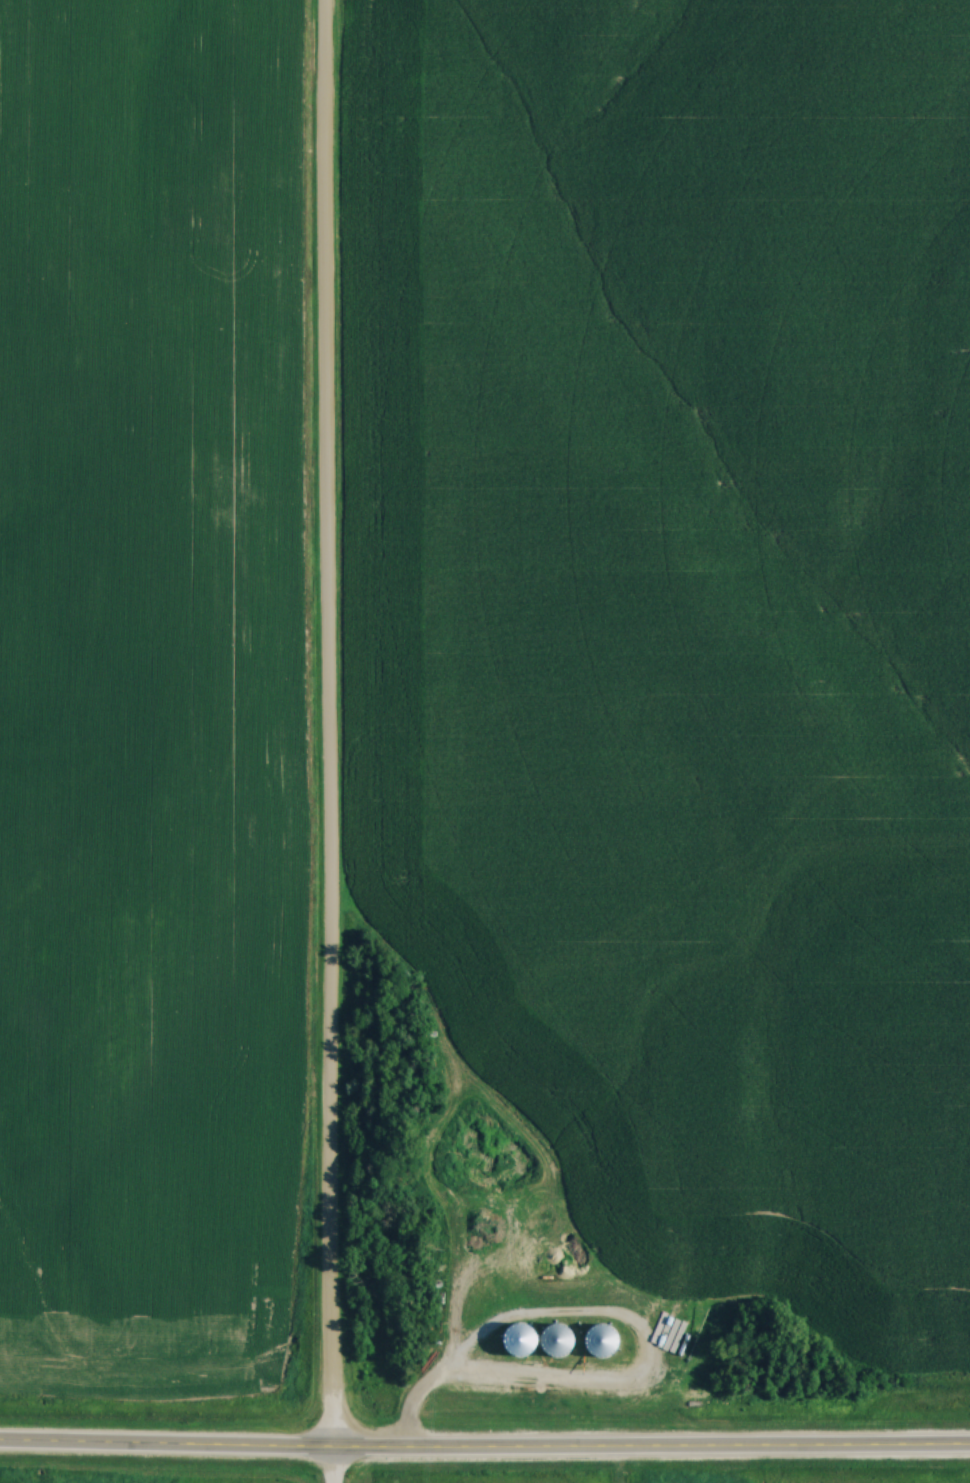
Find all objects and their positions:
road: (325, 741)
road: (484, 1455)

